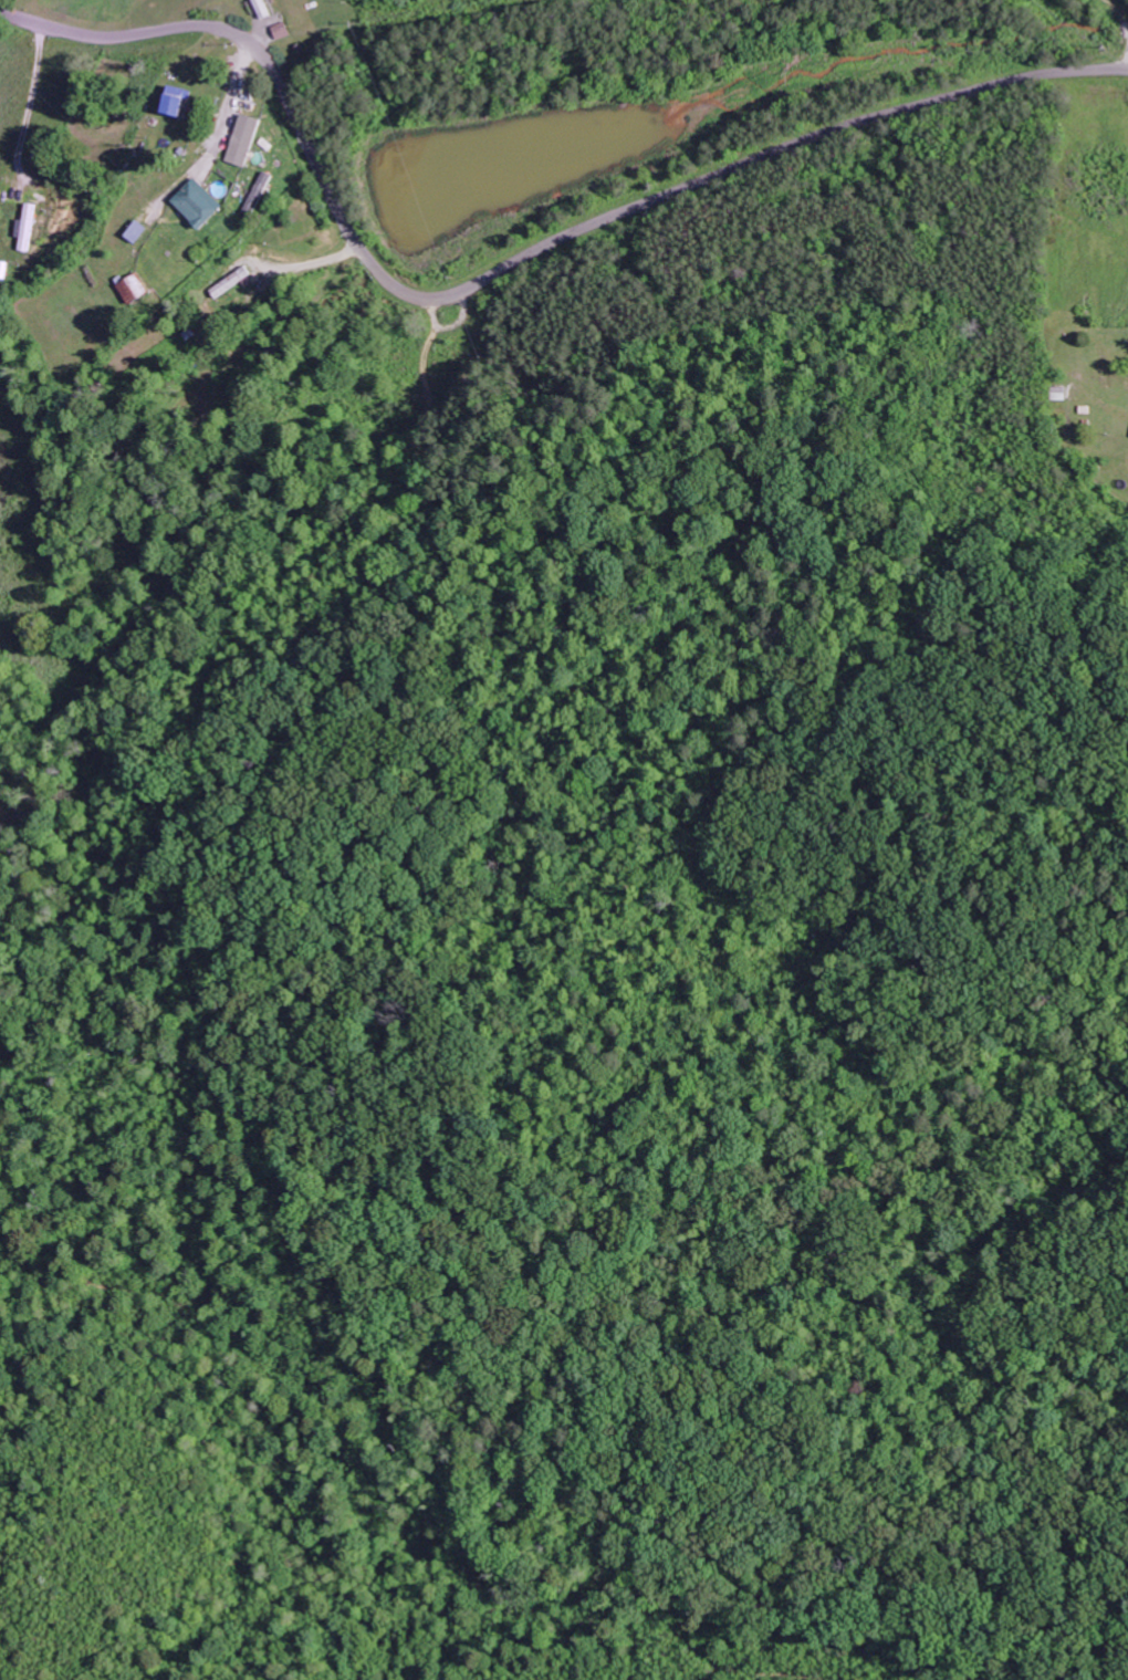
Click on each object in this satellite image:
building: (268, 9)
building: (286, 30)
building: (185, 100)
building: (251, 139)
building: (263, 194)
building: (205, 204)
road: (296, 222)
building: (31, 226)
building: (143, 231)
road: (500, 271)
building: (234, 281)
building: (139, 289)

